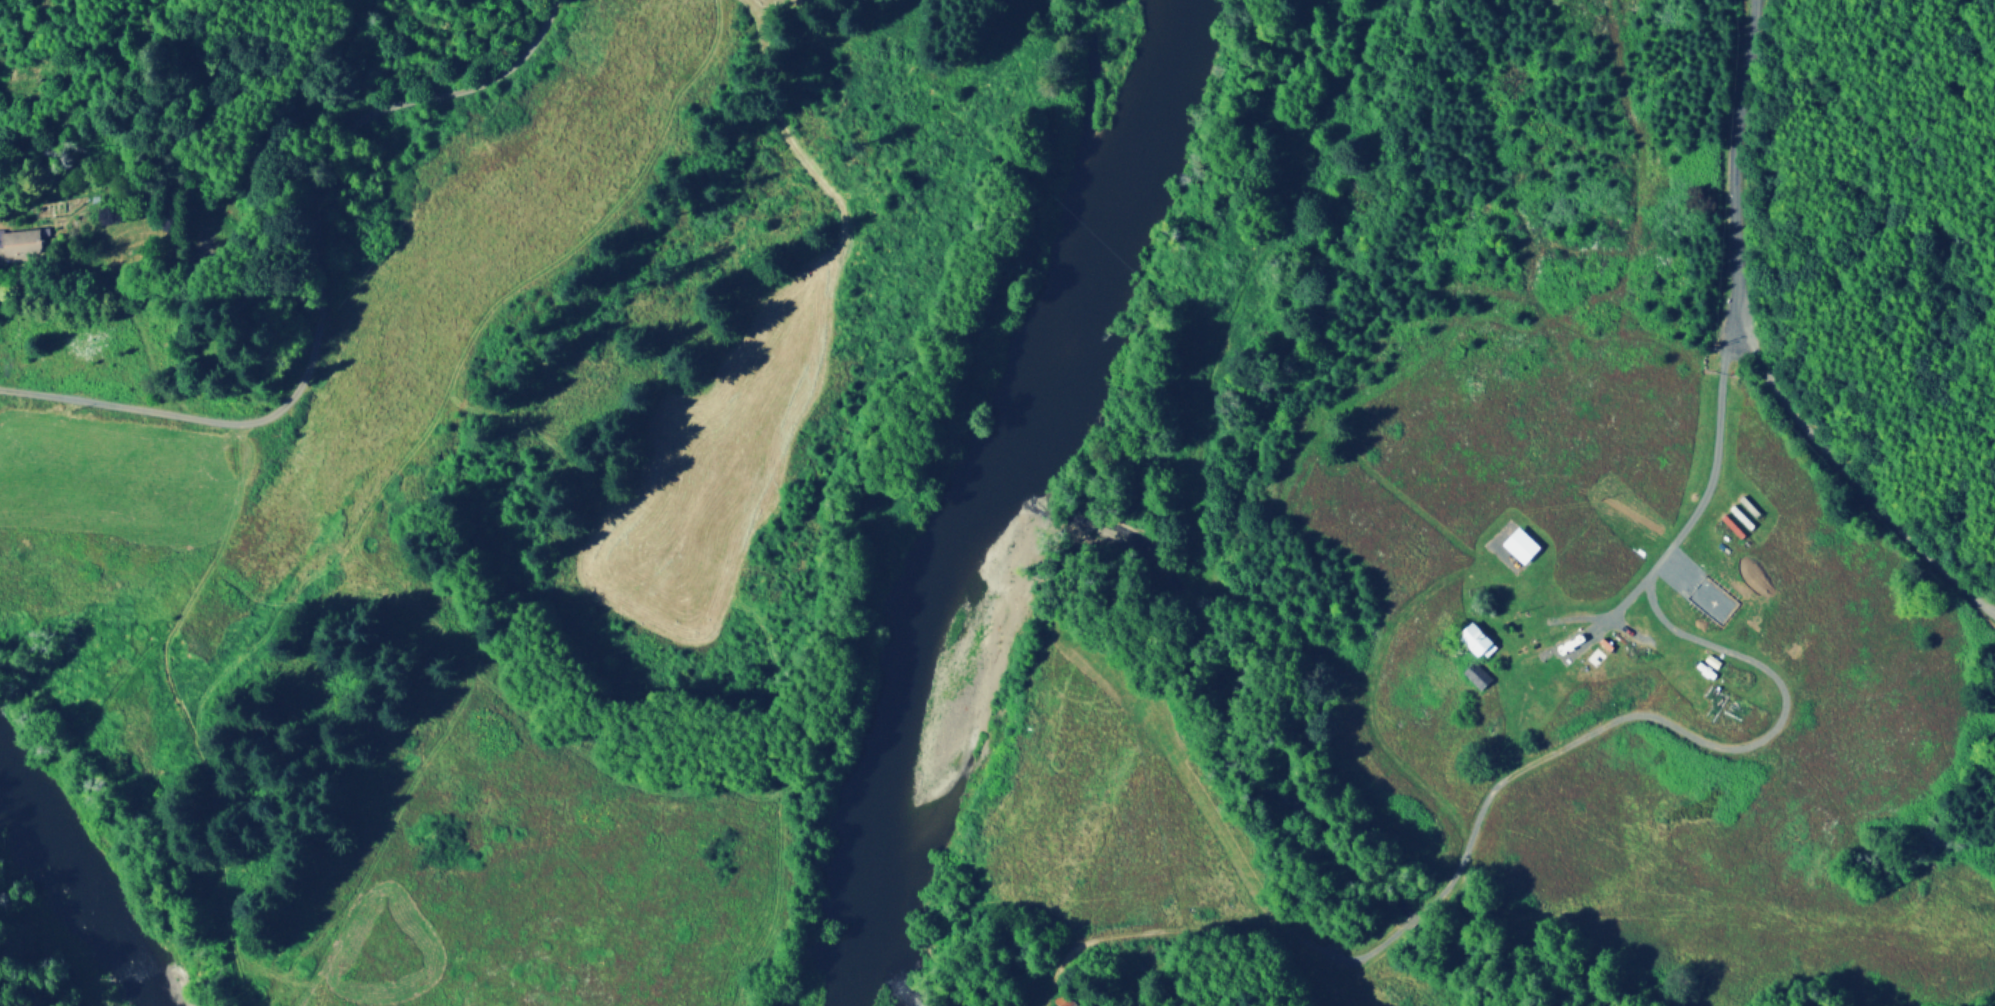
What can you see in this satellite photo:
road: (794, 139)
building: (25, 240)
road: (314, 282)
road: (1758, 350)
river: (988, 492)
road: (1705, 506)
building: (1519, 543)
building: (1476, 639)
building: (1476, 673)
road: (1750, 743)
river: (91, 874)

